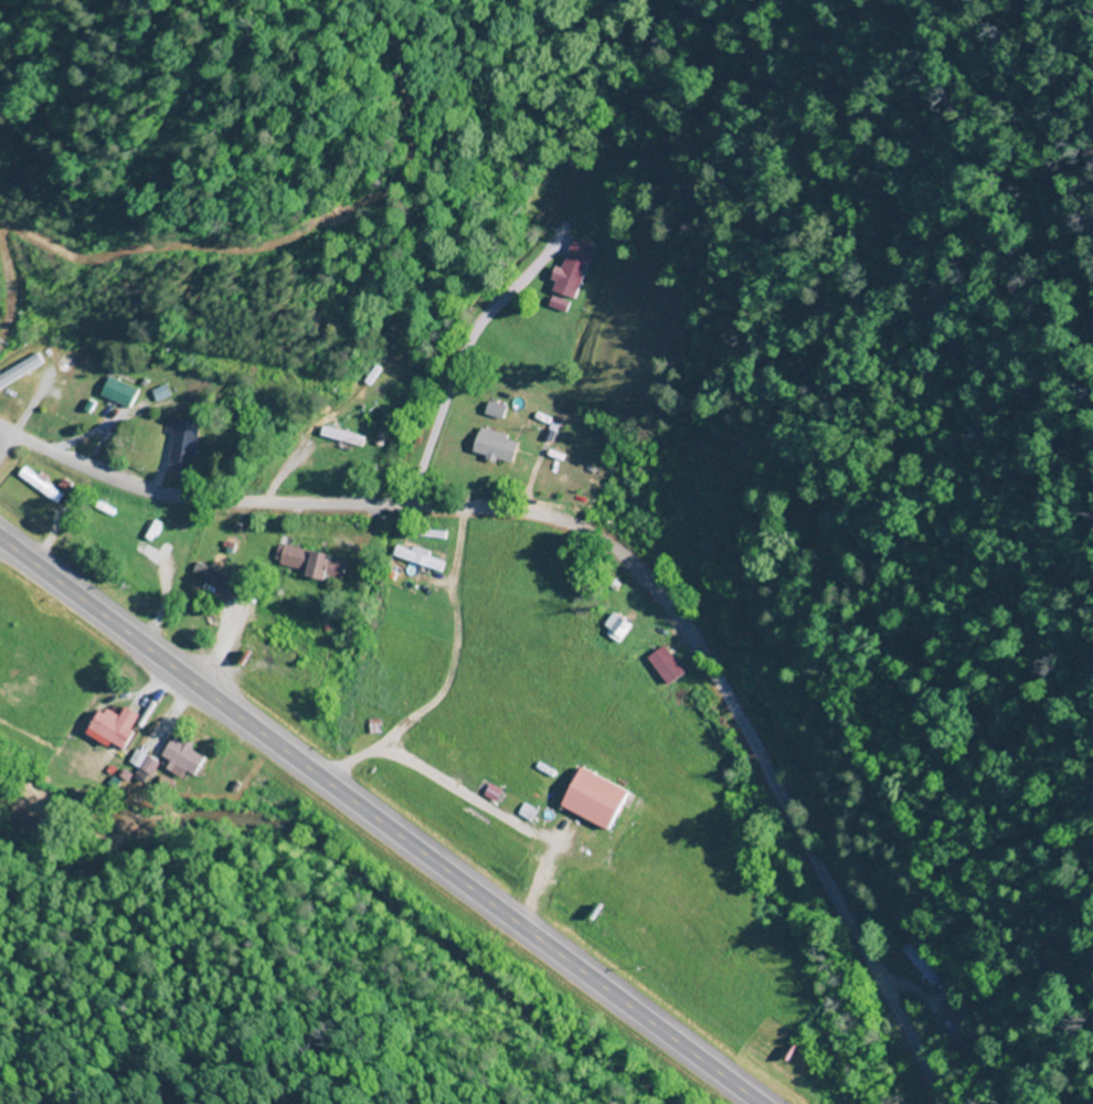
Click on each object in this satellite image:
building: (570, 268)
building: (18, 370)
building: (120, 393)
building: (498, 410)
building: (344, 436)
road: (4, 438)
building: (183, 442)
building: (498, 445)
building: (721, 479)
building: (41, 484)
building: (118, 510)
building: (431, 533)
road: (616, 552)
building: (422, 559)
building: (314, 562)
building: (323, 661)
building: (664, 664)
building: (119, 726)
building: (187, 755)
building: (225, 772)
building: (585, 799)
road: (379, 821)

